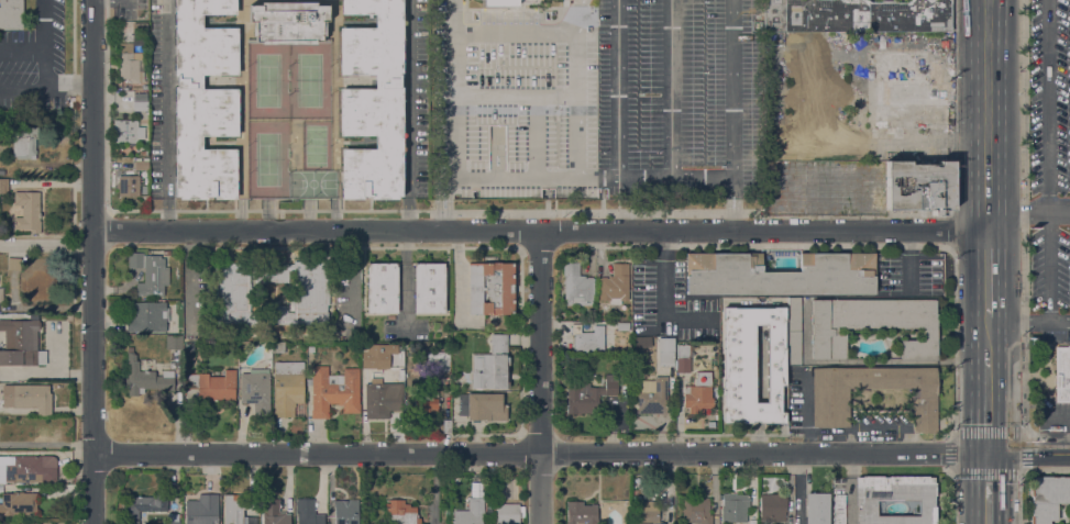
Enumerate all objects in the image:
road: (102, 0)
road: (119, 0)
building: (498, 2)
building: (11, 13)
building: (858, 15)
road: (580, 16)
building: (288, 22)
road: (516, 32)
building: (140, 34)
road: (580, 64)
road: (40, 66)
building: (130, 67)
road: (20, 78)
road: (670, 87)
road: (453, 90)
road: (731, 91)
building: (907, 91)
road: (517, 94)
building: (123, 100)
building: (373, 100)
building: (140, 101)
building: (203, 101)
road: (1049, 105)
road: (165, 114)
road: (92, 115)
road: (988, 115)
building: (128, 131)
building: (24, 143)
road: (619, 143)
building: (141, 165)
road: (603, 178)
road: (561, 179)
road: (732, 183)
building: (129, 185)
building: (4, 186)
building: (919, 186)
road: (443, 203)
building: (27, 211)
road: (1019, 212)
road: (1060, 212)
road: (1024, 216)
road: (540, 231)
road: (46, 241)
building: (13, 264)
road: (1049, 266)
building: (151, 274)
road: (457, 274)
building: (779, 274)
road: (988, 276)
road: (188, 277)
building: (615, 285)
building: (576, 287)
building: (302, 288)
building: (383, 288)
building: (430, 288)
building: (492, 288)
road: (664, 288)
building: (1, 294)
building: (232, 296)
building: (591, 314)
building: (279, 315)
building: (147, 316)
road: (1018, 321)
road: (1059, 322)
building: (872, 325)
building: (622, 326)
building: (794, 332)
building: (587, 338)
building: (20, 341)
road: (988, 341)
building: (174, 342)
building: (189, 346)
building: (278, 347)
building: (148, 348)
building: (311, 349)
building: (666, 352)
building: (683, 358)
building: (374, 359)
building: (439, 363)
building: (490, 365)
building: (752, 365)
building: (1062, 374)
road: (92, 377)
building: (145, 377)
road: (539, 377)
building: (213, 386)
building: (287, 387)
building: (256, 390)
building: (334, 391)
building: (589, 394)
building: (652, 395)
building: (31, 397)
building: (424, 398)
building: (783, 398)
building: (383, 399)
building: (697, 399)
building: (483, 406)
road: (989, 406)
building: (830, 412)
building: (446, 426)
road: (1024, 434)
road: (581, 454)
building: (27, 468)
building: (1, 489)
road: (989, 489)
building: (894, 498)
building: (1048, 498)
building: (18, 503)
building: (141, 505)
building: (735, 508)
building: (773, 508)
building: (788, 508)
building: (817, 509)
building: (839, 509)
building: (201, 510)
building: (236, 510)
building: (696, 510)
building: (274, 512)
building: (307, 512)
building: (346, 512)
building: (471, 512)
building: (647, 512)
building: (401, 513)
building: (508, 513)
building: (581, 513)
building: (174, 522)

